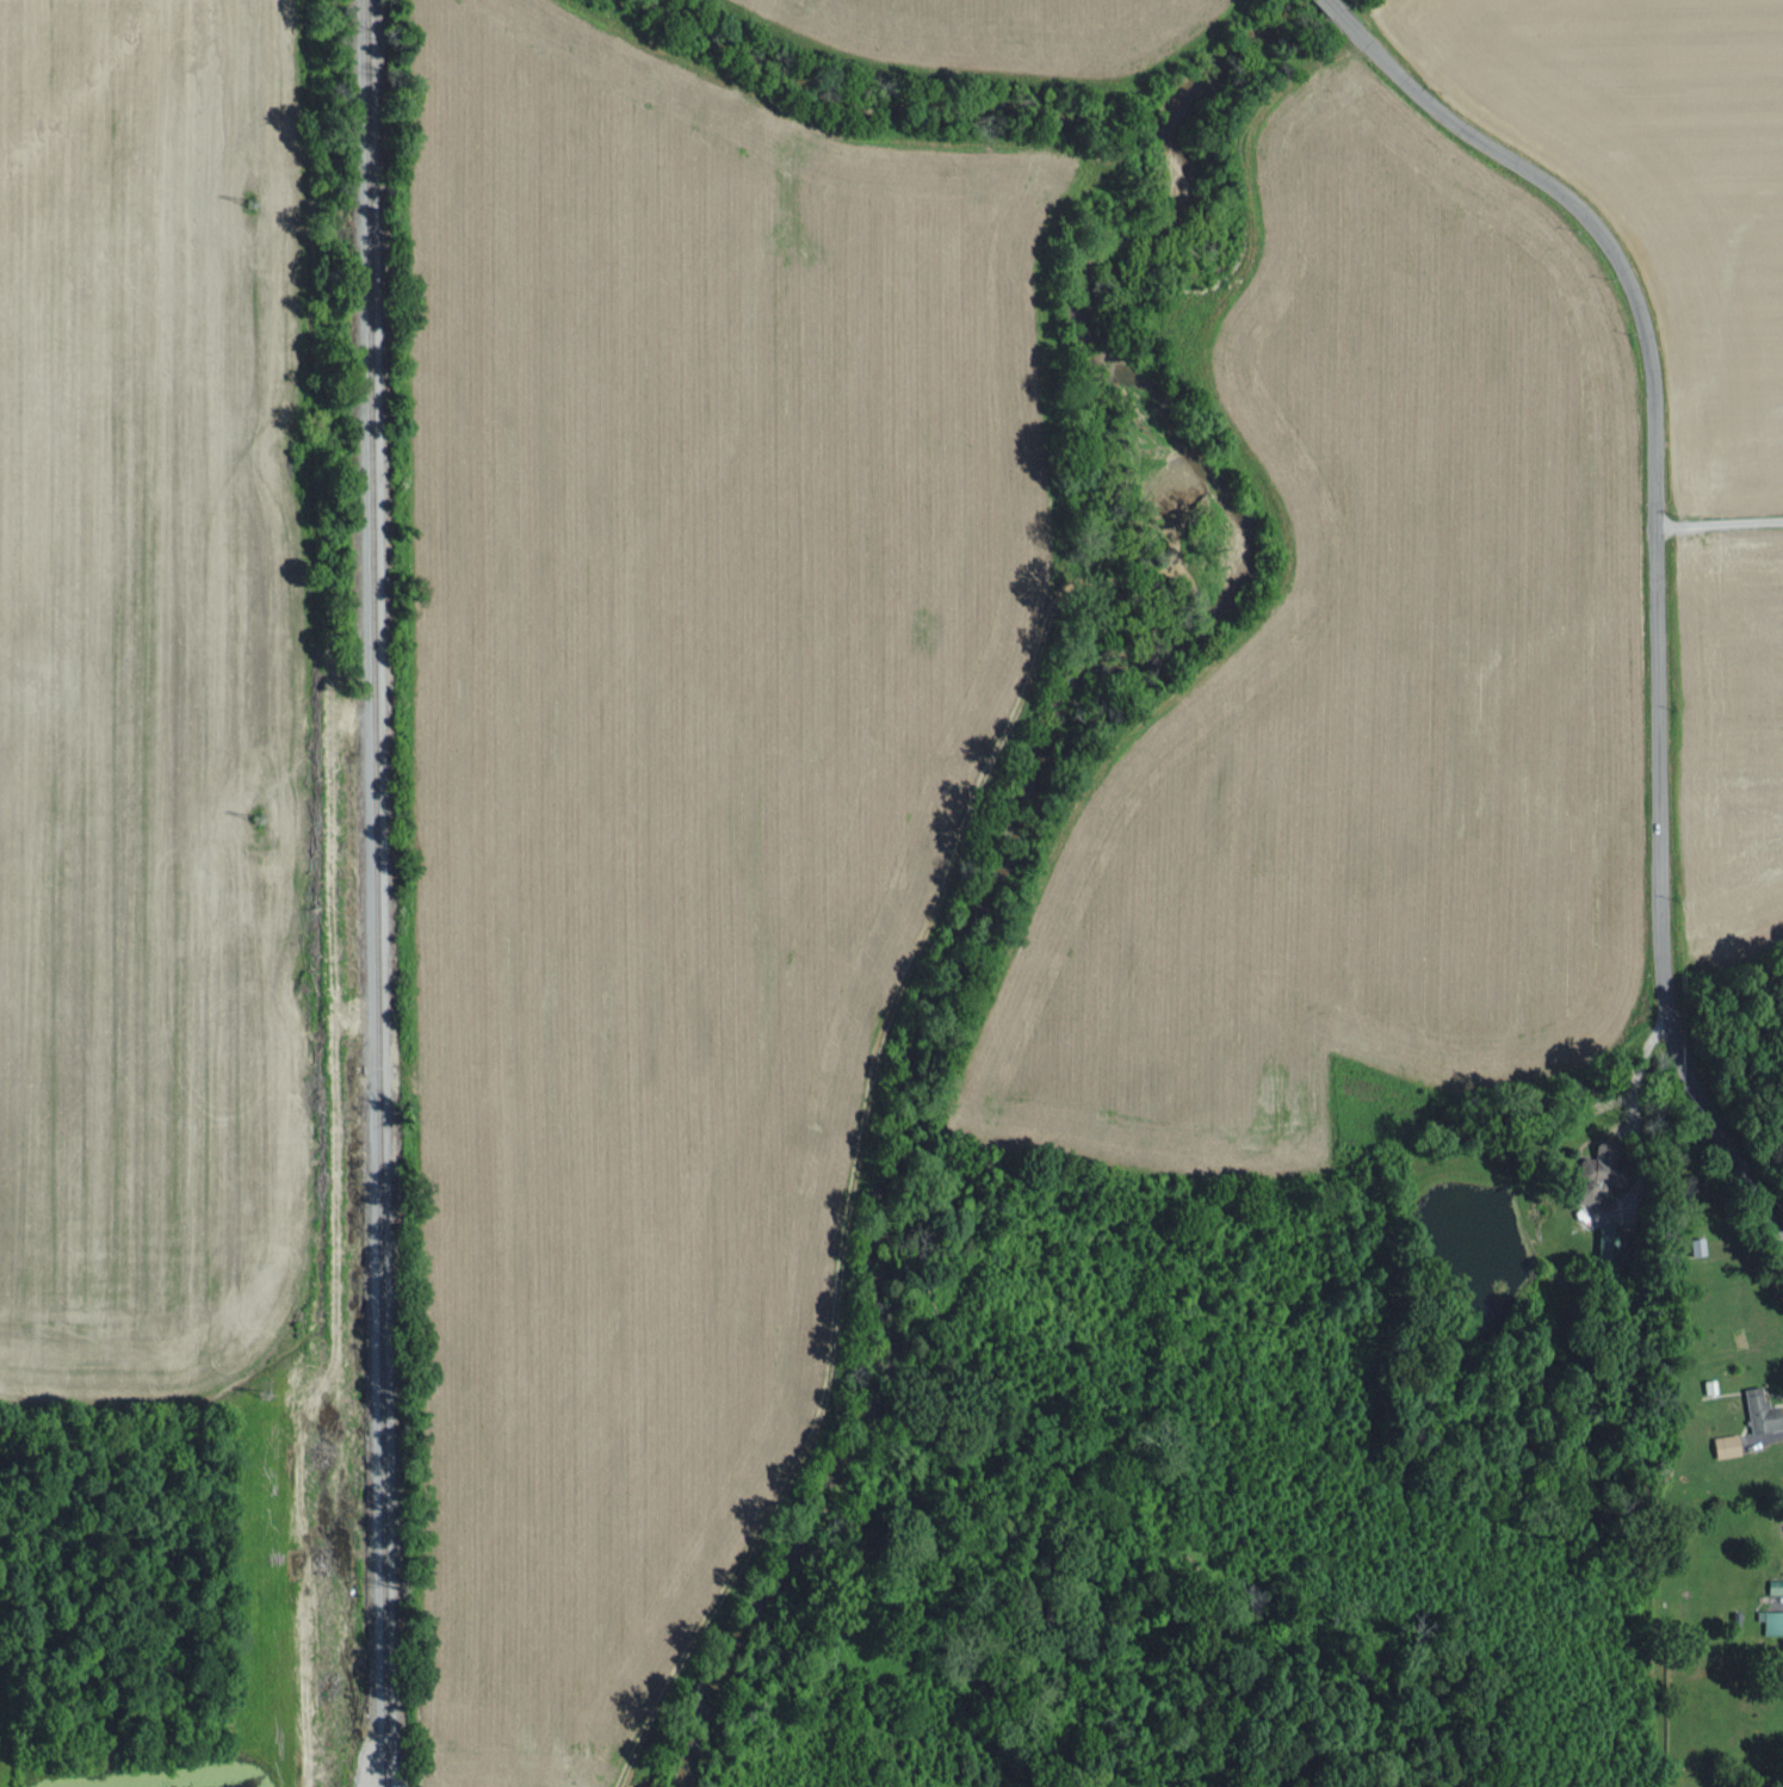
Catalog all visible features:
road: (1720, 521)
road: (1655, 565)
railway: (380, 894)
building: (1586, 1180)
building: (1689, 1244)
building: (1756, 1410)
building: (1722, 1443)
building: (1771, 1620)

